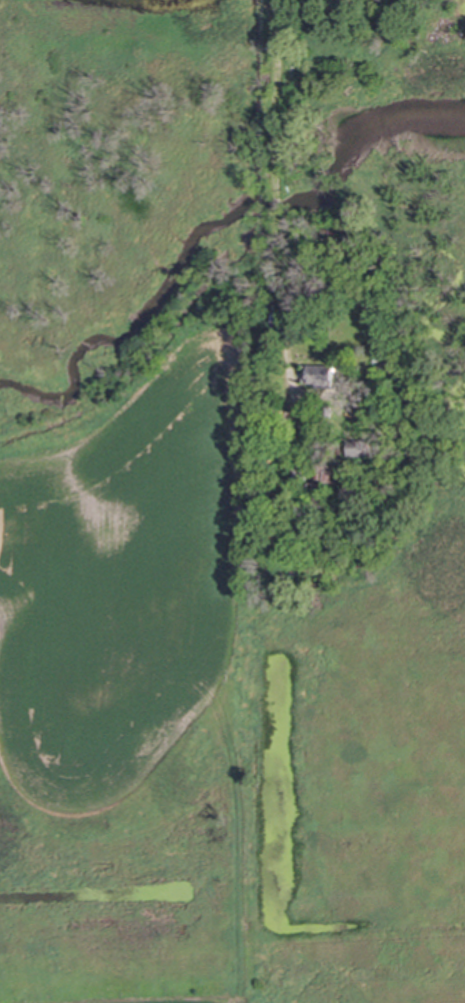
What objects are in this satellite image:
road: (276, 175)
crop: (121, 579)
airport: (369, 967)
crop: (202, 1001)

